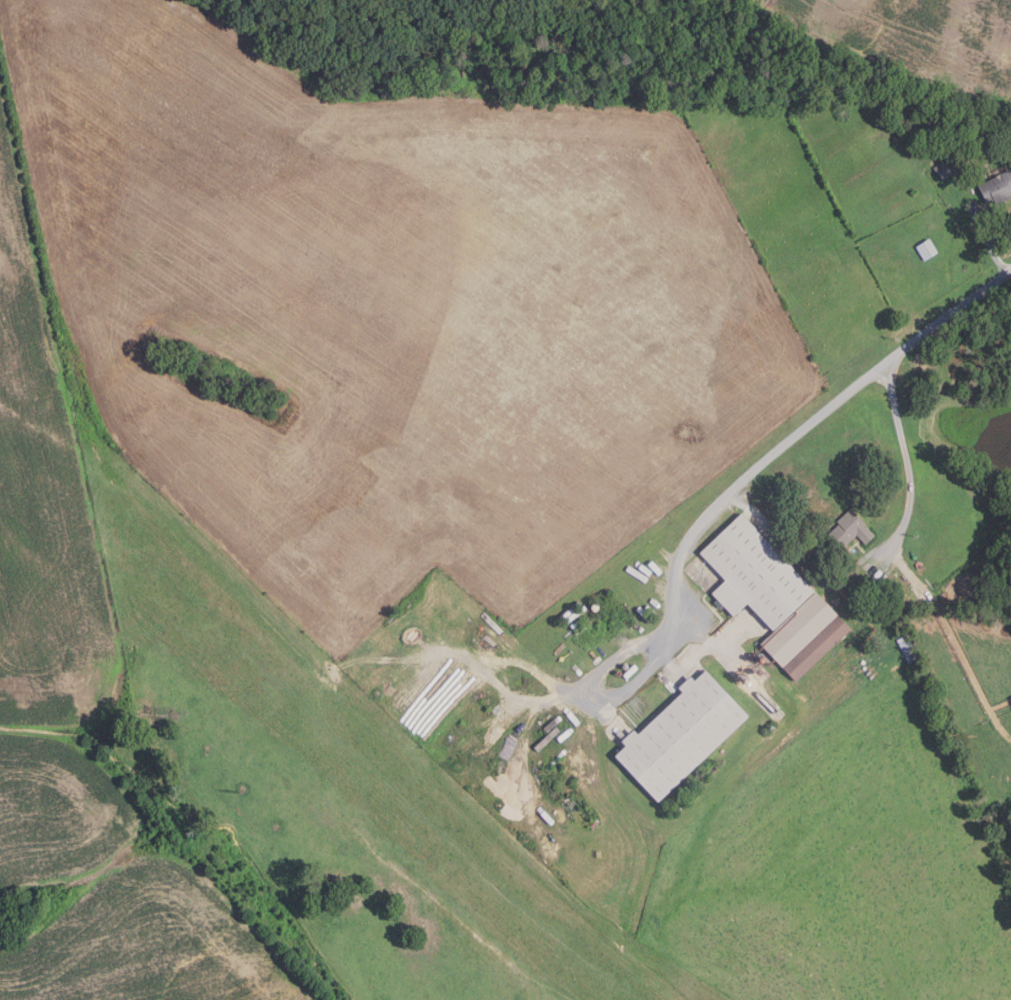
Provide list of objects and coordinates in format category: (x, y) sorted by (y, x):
building: (1008, 140)
building: (947, 167)
building: (997, 188)
road: (989, 240)
building: (927, 249)
road: (788, 442)
road: (903, 455)
building: (849, 531)
building: (755, 574)
building: (806, 637)
building: (682, 736)

